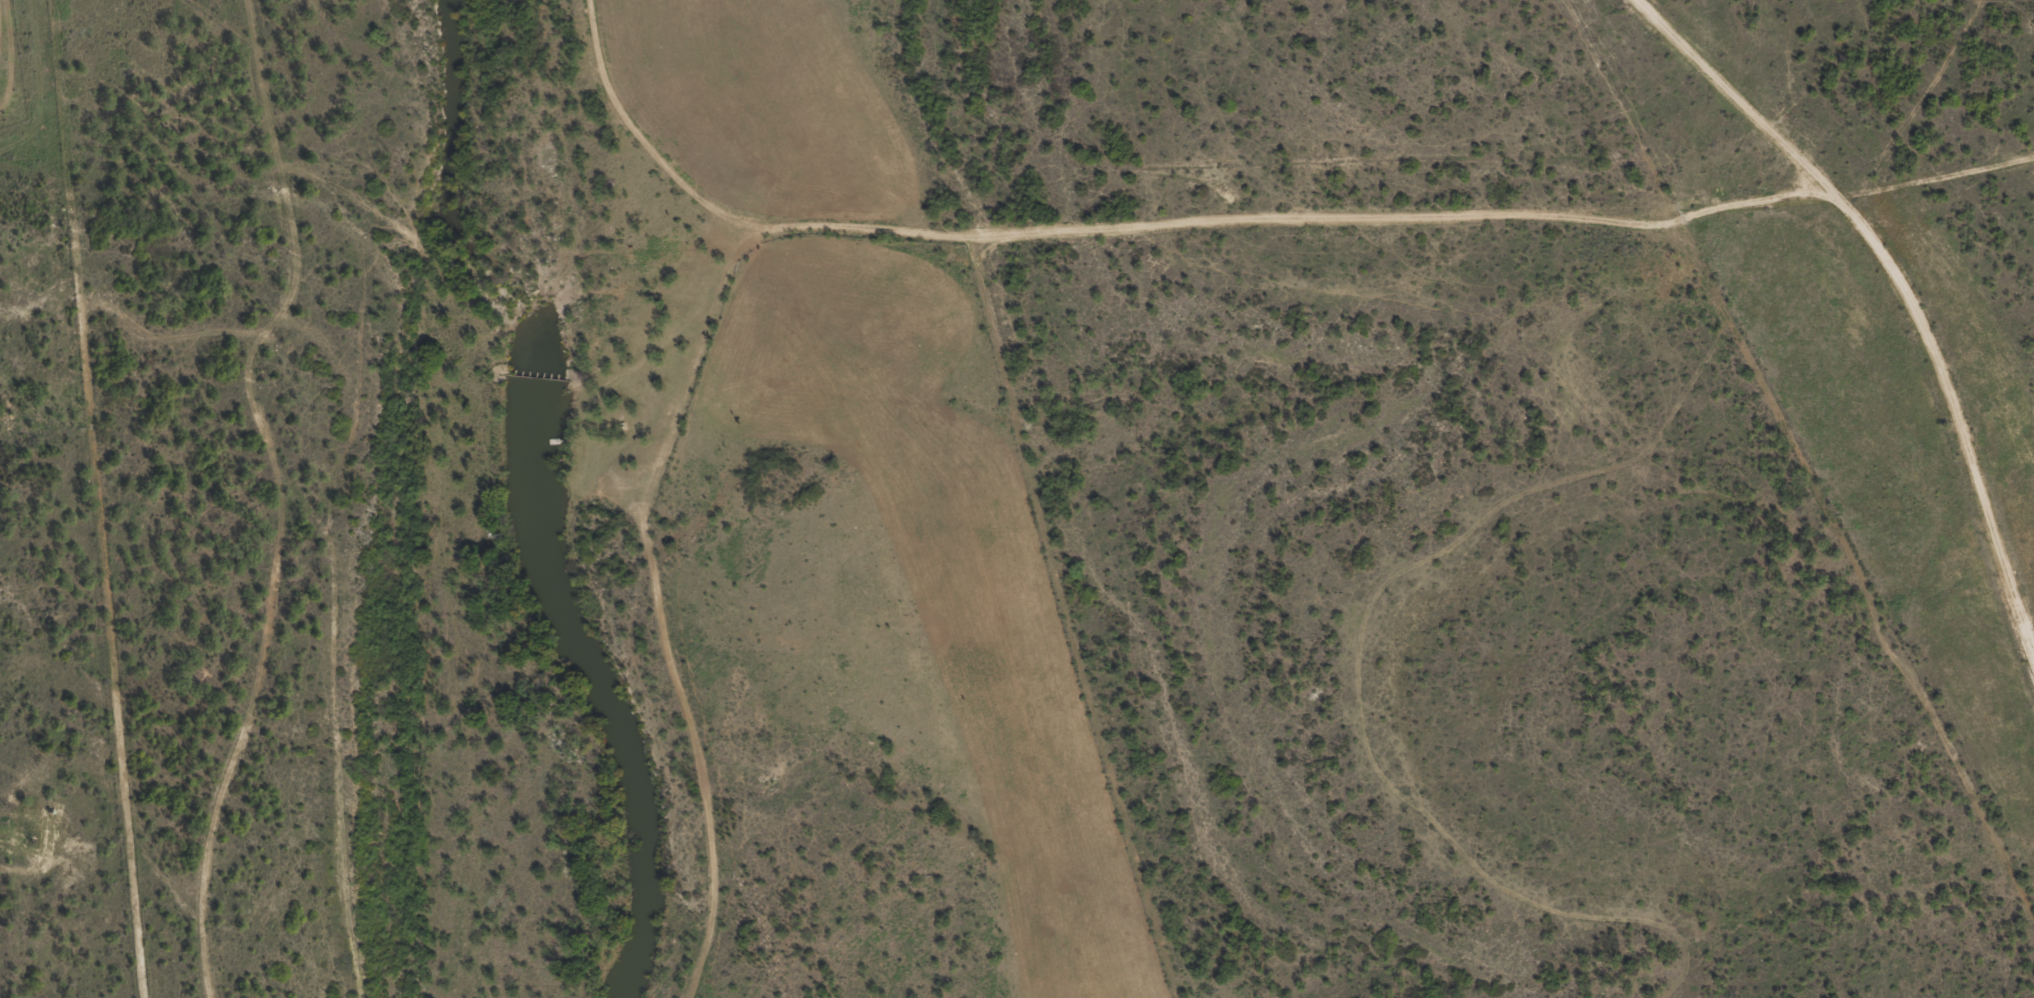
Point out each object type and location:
road: (1107, 233)
road: (1891, 297)
road: (284, 500)
road: (664, 596)

